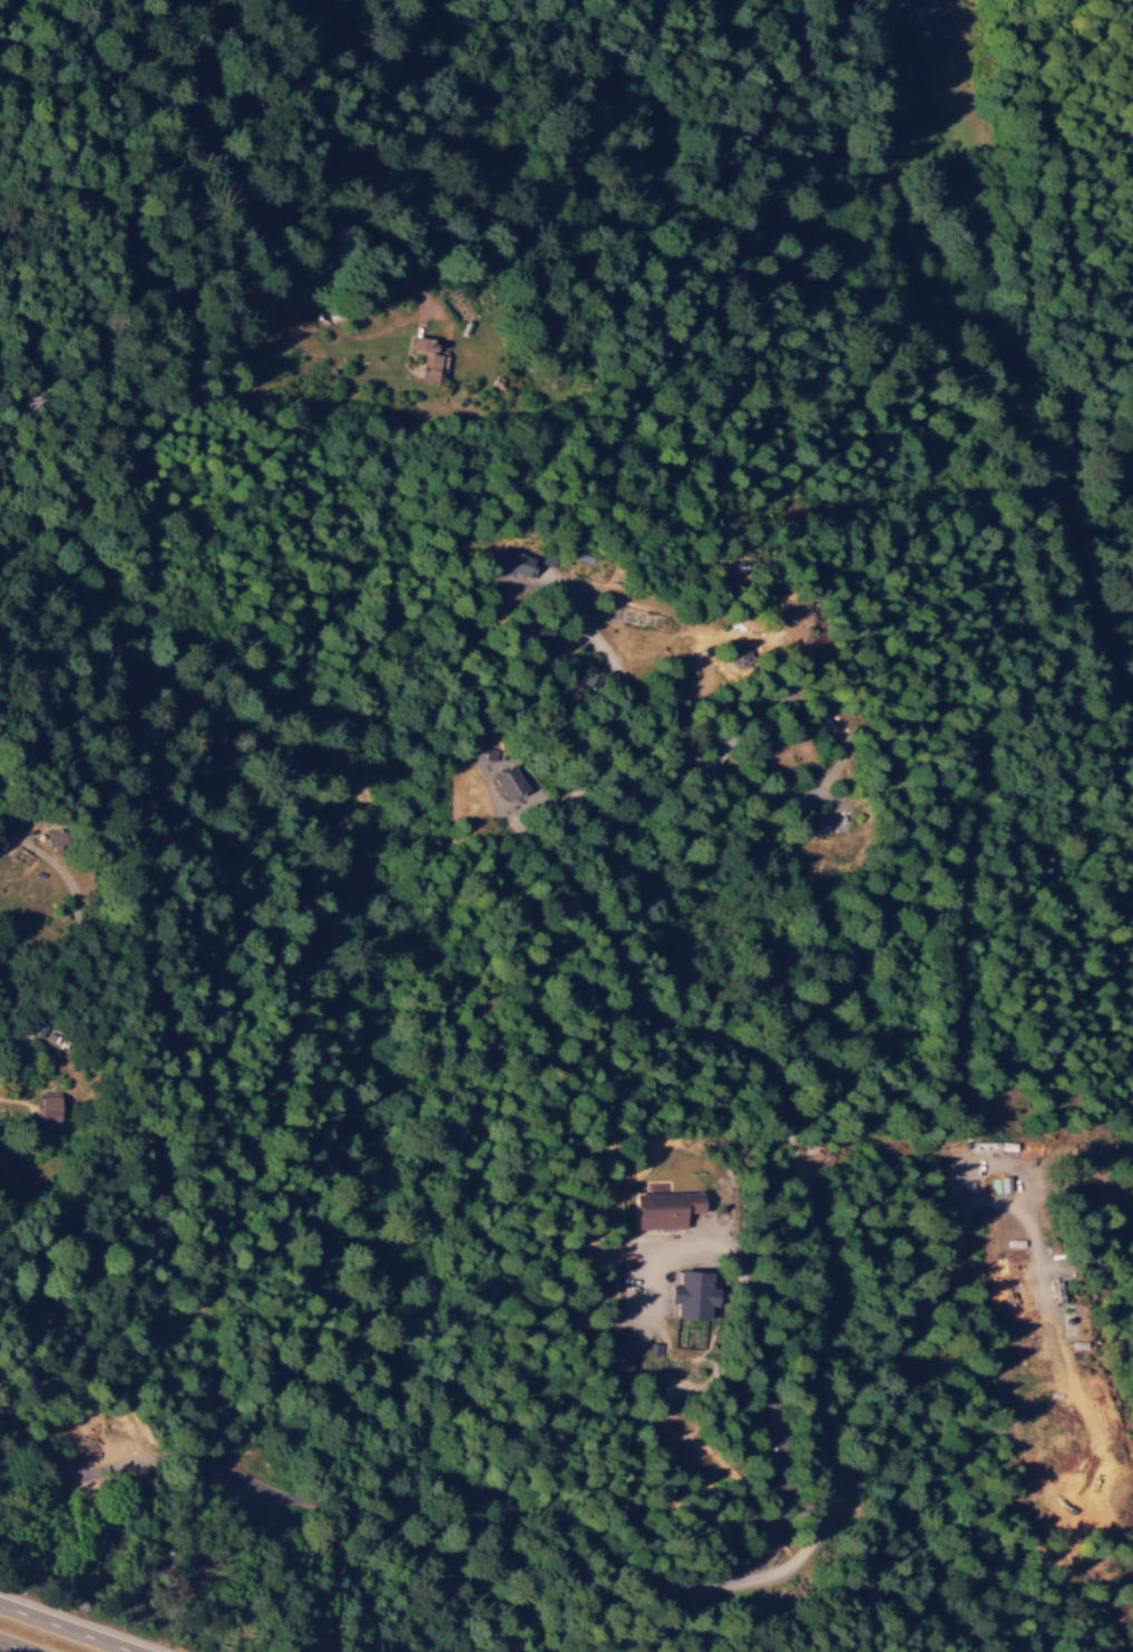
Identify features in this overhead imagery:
road: (964, 354)
building: (428, 358)
building: (509, 781)
building: (52, 1110)
building: (1005, 1183)
building: (668, 1208)
building: (697, 1293)
road: (67, 1627)
road: (1, 1651)

